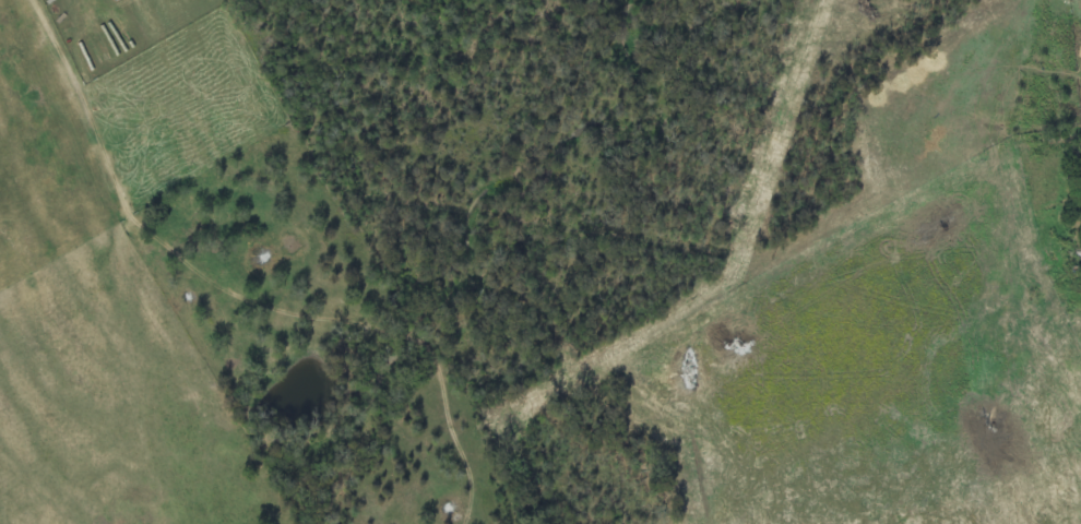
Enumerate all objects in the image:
road: (318, 314)
road: (79, 391)

